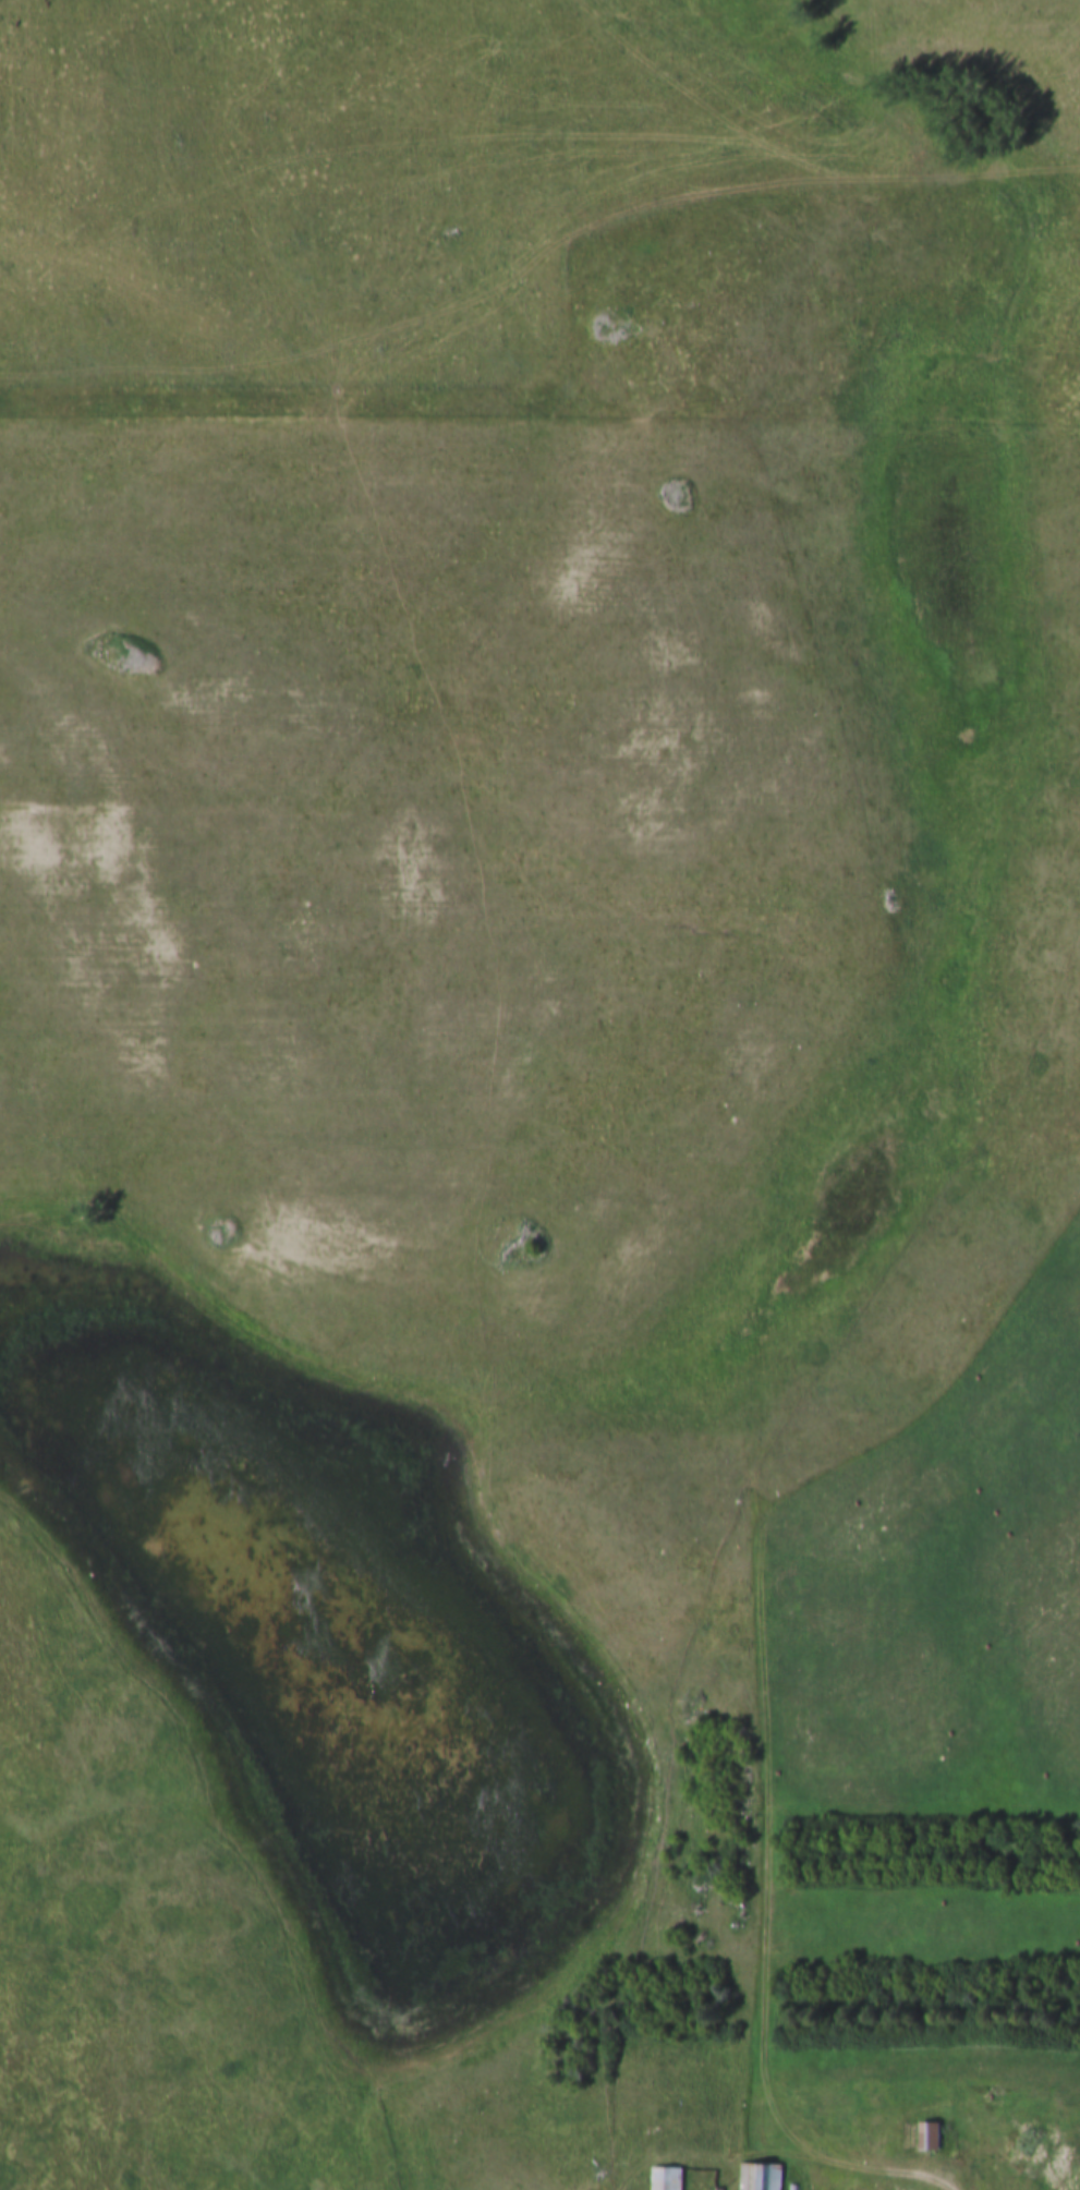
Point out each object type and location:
building: (929, 2135)
building: (1030, 2141)
building: (760, 2176)
building: (666, 2177)
road: (957, 2188)

